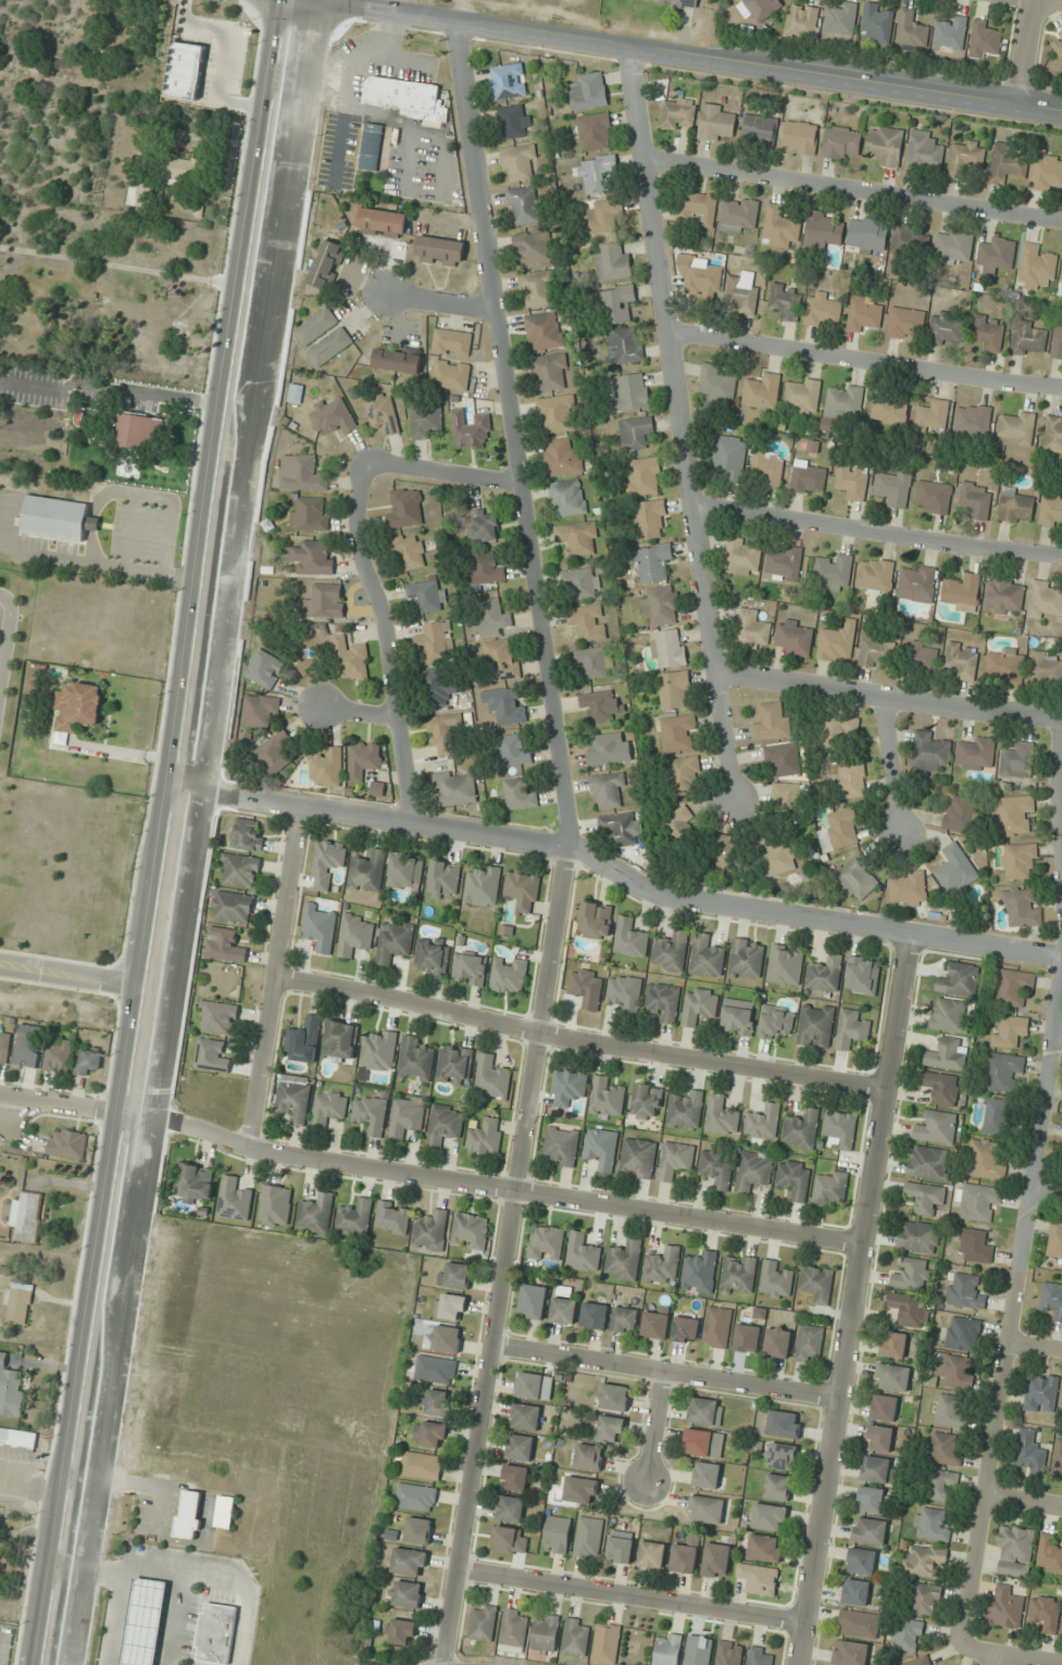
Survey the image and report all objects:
road: (1033, 0)
building: (679, 2)
building: (759, 8)
building: (841, 18)
building: (802, 21)
building: (877, 22)
building: (912, 29)
building: (951, 33)
building: (985, 40)
building: (1057, 43)
road: (1029, 52)
road: (689, 58)
building: (185, 71)
building: (508, 82)
building: (589, 91)
building: (403, 96)
building: (678, 113)
building: (514, 122)
building: (717, 123)
building: (759, 129)
building: (595, 132)
building: (800, 137)
building: (841, 142)
building: (886, 146)
building: (371, 147)
building: (925, 149)
building: (966, 157)
building: (520, 163)
building: (1007, 163)
building: (183, 168)
building: (1047, 172)
building: (597, 173)
road: (854, 190)
building: (524, 205)
building: (700, 208)
building: (738, 214)
building: (604, 215)
building: (380, 223)
building: (780, 228)
building: (823, 229)
building: (867, 235)
building: (908, 238)
building: (953, 247)
building: (533, 248)
building: (440, 251)
building: (997, 254)
building: (613, 261)
building: (326, 264)
building: (1036, 267)
building: (700, 273)
building: (1061, 279)
building: (536, 289)
building: (744, 292)
building: (786, 301)
road: (443, 303)
building: (617, 304)
building: (824, 310)
building: (864, 314)
building: (907, 320)
building: (316, 326)
building: (946, 329)
building: (544, 330)
building: (988, 333)
building: (1028, 339)
building: (452, 342)
building: (1057, 342)
building: (625, 346)
building: (330, 347)
building: (398, 359)
road: (866, 361)
building: (550, 372)
building: (451, 375)
building: (715, 386)
building: (762, 391)
building: (290, 392)
building: (629, 392)
building: (802, 395)
building: (845, 402)
building: (889, 410)
building: (383, 413)
building: (557, 414)
building: (333, 416)
building: (933, 418)
building: (973, 420)
building: (426, 422)
building: (137, 426)
road: (683, 426)
building: (1017, 428)
building: (470, 430)
building: (635, 433)
building: (1053, 435)
road: (515, 436)
building: (730, 456)
building: (561, 458)
building: (767, 467)
building: (301, 474)
building: (644, 476)
road: (443, 477)
building: (809, 477)
building: (852, 481)
building: (895, 488)
building: (934, 497)
building: (567, 498)
building: (976, 500)
building: (1016, 506)
building: (407, 510)
building: (1051, 510)
building: (310, 514)
building: (59, 518)
building: (648, 519)
building: (483, 527)
road: (877, 530)
building: (578, 538)
building: (410, 552)
building: (311, 558)
building: (741, 558)
building: (785, 563)
building: (653, 564)
building: (485, 569)
building: (833, 573)
building: (875, 575)
building: (584, 584)
building: (917, 584)
building: (962, 592)
building: (426, 596)
building: (1004, 597)
building: (325, 601)
building: (1046, 601)
building: (661, 605)
building: (491, 618)
building: (587, 622)
building: (752, 628)
building: (795, 637)
road: (8, 638)
road: (389, 642)
building: (435, 642)
building: (837, 642)
building: (669, 649)
building: (875, 652)
building: (924, 658)
building: (351, 660)
building: (500, 660)
building: (963, 661)
building: (594, 663)
building: (1004, 666)
building: (1047, 667)
building: (264, 669)
building: (439, 688)
building: (673, 689)
road: (889, 697)
building: (507, 705)
building: (600, 705)
building: (77, 708)
building: (260, 710)
road: (364, 715)
building: (772, 722)
building: (840, 728)
building: (443, 733)
building: (678, 734)
building: (609, 749)
building: (513, 751)
building: (929, 752)
building: (275, 753)
building: (976, 754)
building: (783, 759)
building: (363, 760)
building: (1017, 761)
road: (892, 764)
building: (328, 767)
building: (684, 775)
building: (851, 779)
building: (455, 788)
building: (608, 790)
building: (517, 796)
building: (787, 801)
building: (960, 814)
building: (1013, 814)
building: (680, 826)
building: (623, 828)
building: (840, 830)
road: (179, 832)
building: (247, 836)
building: (725, 852)
building: (775, 857)
building: (1019, 861)
building: (327, 863)
building: (955, 869)
building: (240, 871)
building: (367, 873)
building: (405, 873)
road: (623, 877)
building: (443, 878)
building: (857, 878)
building: (483, 887)
building: (908, 889)
building: (523, 890)
building: (233, 906)
building: (1020, 907)
building: (595, 919)
building: (320, 928)
building: (355, 934)
building: (630, 939)
building: (393, 940)
building: (225, 944)
building: (671, 951)
building: (432, 956)
building: (707, 957)
building: (747, 960)
building: (786, 965)
building: (470, 969)
building: (825, 974)
road: (52, 976)
building: (509, 976)
building: (862, 976)
road: (274, 977)
road: (120, 980)
building: (959, 980)
building: (1012, 987)
building: (587, 988)
building: (625, 993)
building: (663, 1001)
building: (699, 1005)
building: (949, 1015)
building: (217, 1018)
building: (737, 1021)
building: (775, 1022)
building: (815, 1025)
building: (851, 1029)
building: (1010, 1031)
building: (303, 1040)
building: (340, 1040)
road: (1058, 1040)
road: (578, 1041)
building: (4, 1044)
building: (27, 1046)
building: (379, 1051)
building: (58, 1054)
building: (212, 1055)
building: (947, 1055)
building: (415, 1060)
building: (87, 1062)
building: (454, 1065)
building: (1001, 1072)
building: (491, 1077)
building: (569, 1087)
building: (941, 1088)
building: (607, 1098)
building: (295, 1101)
building: (647, 1101)
building: (328, 1107)
building: (686, 1112)
building: (371, 1114)
building: (407, 1116)
building: (996, 1116)
building: (721, 1117)
building: (763, 1123)
building: (445, 1124)
building: (936, 1128)
building: (840, 1129)
building: (801, 1130)
building: (486, 1137)
building: (67, 1143)
building: (562, 1146)
building: (601, 1148)
building: (638, 1159)
building: (986, 1160)
building: (675, 1161)
building: (928, 1163)
building: (716, 1168)
building: (753, 1170)
road: (430, 1177)
building: (794, 1178)
building: (195, 1184)
building: (830, 1188)
road: (1049, 1192)
building: (924, 1198)
building: (234, 1200)
building: (977, 1202)
building: (275, 1205)
building: (315, 1214)
building: (27, 1216)
building: (354, 1218)
building: (392, 1218)
building: (430, 1230)
building: (470, 1231)
building: (917, 1237)
building: (1055, 1241)
building: (547, 1242)
building: (975, 1245)
building: (583, 1253)
road: (503, 1254)
building: (624, 1262)
building: (662, 1265)
building: (700, 1273)
building: (737, 1274)
building: (911, 1274)
building: (455, 1276)
building: (776, 1281)
building: (817, 1284)
building: (965, 1291)
building: (1052, 1300)
building: (533, 1301)
road: (855, 1302)
building: (18, 1304)
building: (450, 1306)
building: (563, 1311)
building: (909, 1311)
building: (595, 1315)
building: (624, 1319)
road: (1014, 1320)
building: (654, 1325)
building: (717, 1327)
building: (685, 1329)
building: (963, 1334)
building: (747, 1338)
building: (443, 1339)
building: (777, 1342)
building: (810, 1343)
building: (894, 1344)
road: (1036, 1348)
building: (436, 1369)
building: (954, 1370)
road: (665, 1372)
building: (892, 1377)
building: (529, 1386)
building: (10, 1389)
building: (1041, 1393)
building: (613, 1397)
building: (438, 1403)
building: (884, 1407)
building: (705, 1412)
building: (950, 1412)
building: (525, 1416)
building: (784, 1424)
road: (655, 1427)
building: (611, 1429)
building: (429, 1434)
building: (879, 1438)
building: (18, 1439)
building: (703, 1443)
building: (520, 1448)
building: (945, 1449)
building: (1029, 1451)
building: (780, 1456)
building: (589, 1457)
building: (1058, 1460)
building: (422, 1465)
building: (878, 1469)
building: (707, 1475)
building: (515, 1478)
building: (941, 1484)
building: (778, 1488)
building: (580, 1490)
building: (416, 1498)
building: (874, 1500)
road: (1025, 1503)
building: (511, 1508)
building: (707, 1510)
building: (189, 1515)
building: (769, 1517)
building: (933, 1524)
building: (418, 1530)
building: (870, 1531)
building: (558, 1533)
building: (589, 1538)
building: (509, 1541)
building: (764, 1548)
building: (620, 1550)
building: (1015, 1552)
building: (652, 1554)
building: (685, 1555)
building: (1049, 1555)
building: (716, 1560)
building: (861, 1561)
building: (924, 1561)
building: (410, 1562)
building: (855, 1592)
building: (408, 1593)
road: (632, 1597)
building: (925, 1599)
building: (1004, 1607)
building: (1046, 1613)
building: (145, 1622)
building: (483, 1623)
building: (859, 1624)
building: (515, 1627)
building: (402, 1631)
building: (216, 1633)
building: (546, 1633)
building: (908, 1635)
building: (576, 1637)
building: (607, 1643)
building: (669, 1649)
building: (729, 1652)
building: (850, 1653)
building: (761, 1656)
road: (1001, 1658)
building: (920, 1661)
road: (995, 1662)

